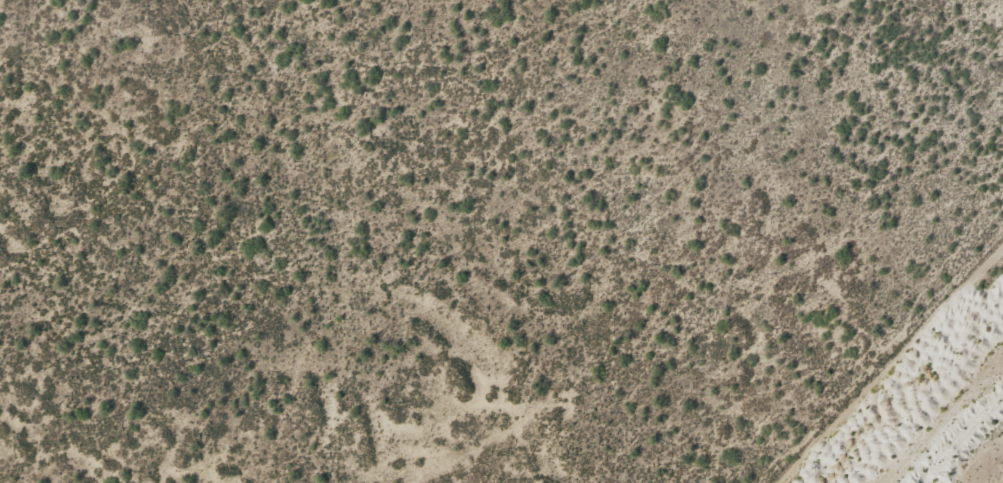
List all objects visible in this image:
quarry: (932, 408)

